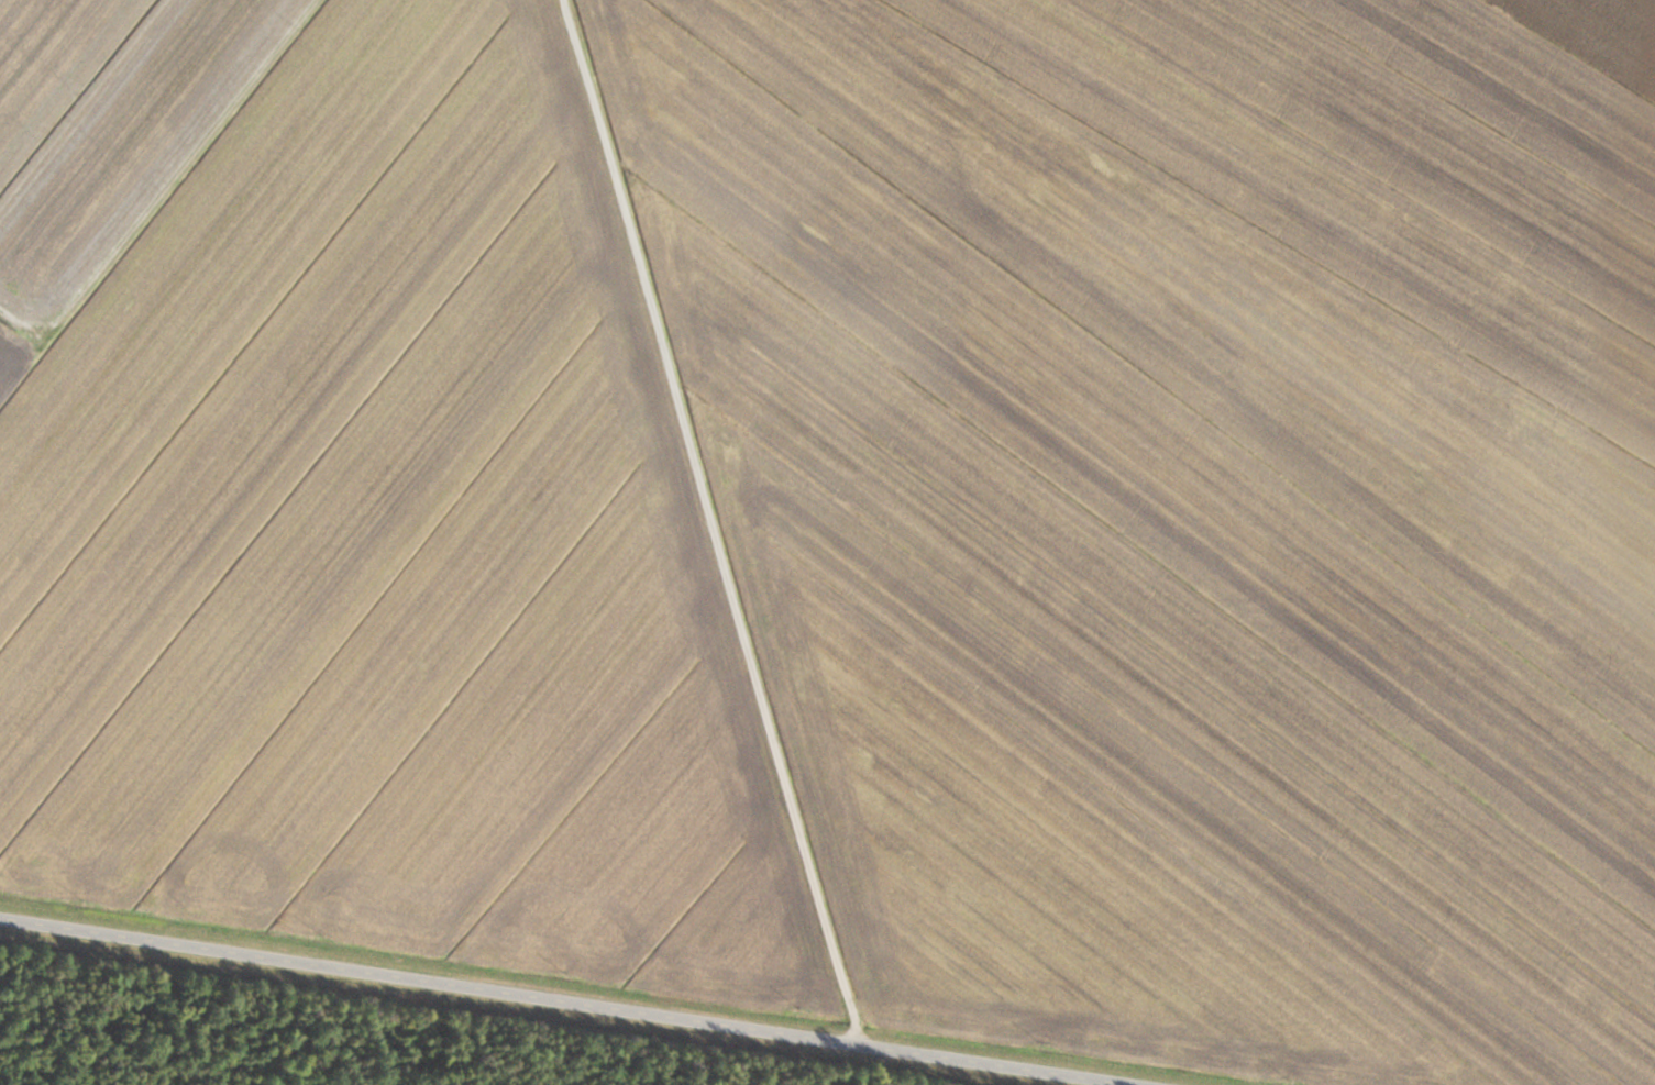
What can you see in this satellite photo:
road: (816, 390)
road: (711, 605)
road: (572, 1001)

